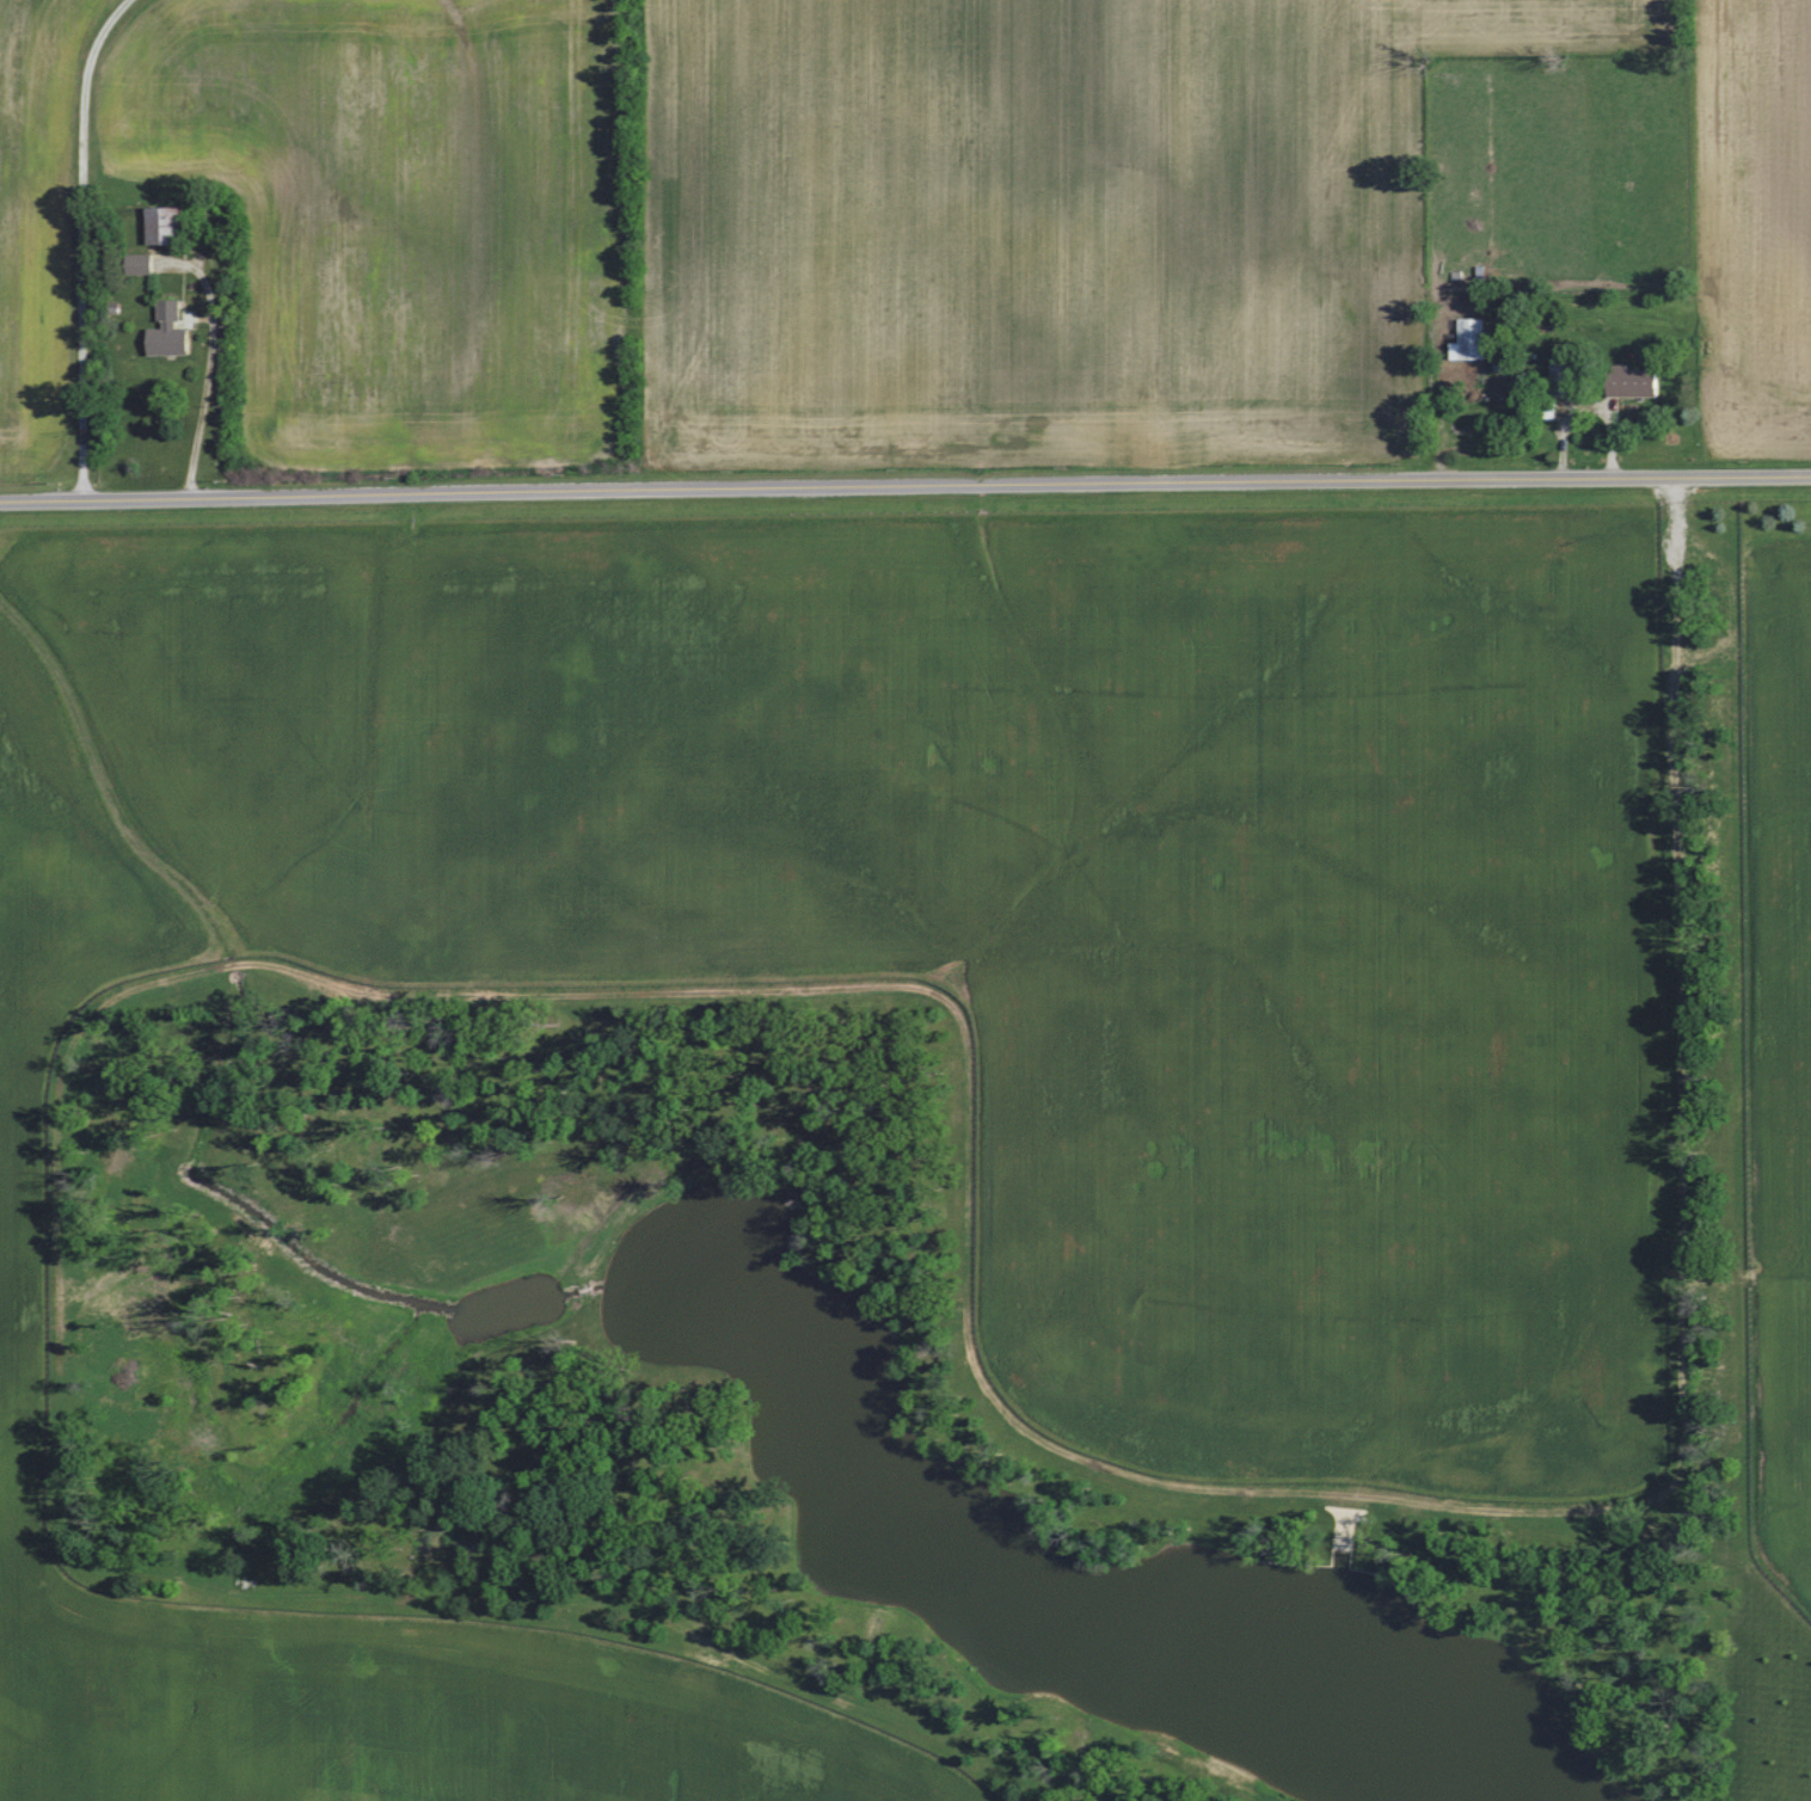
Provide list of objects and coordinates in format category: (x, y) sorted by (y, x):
building: (167, 227)
road: (85, 246)
building: (146, 263)
building: (172, 332)
building: (1473, 340)
building: (1563, 370)
building: (1639, 383)
road: (204, 399)
road: (1588, 405)
road: (904, 486)

